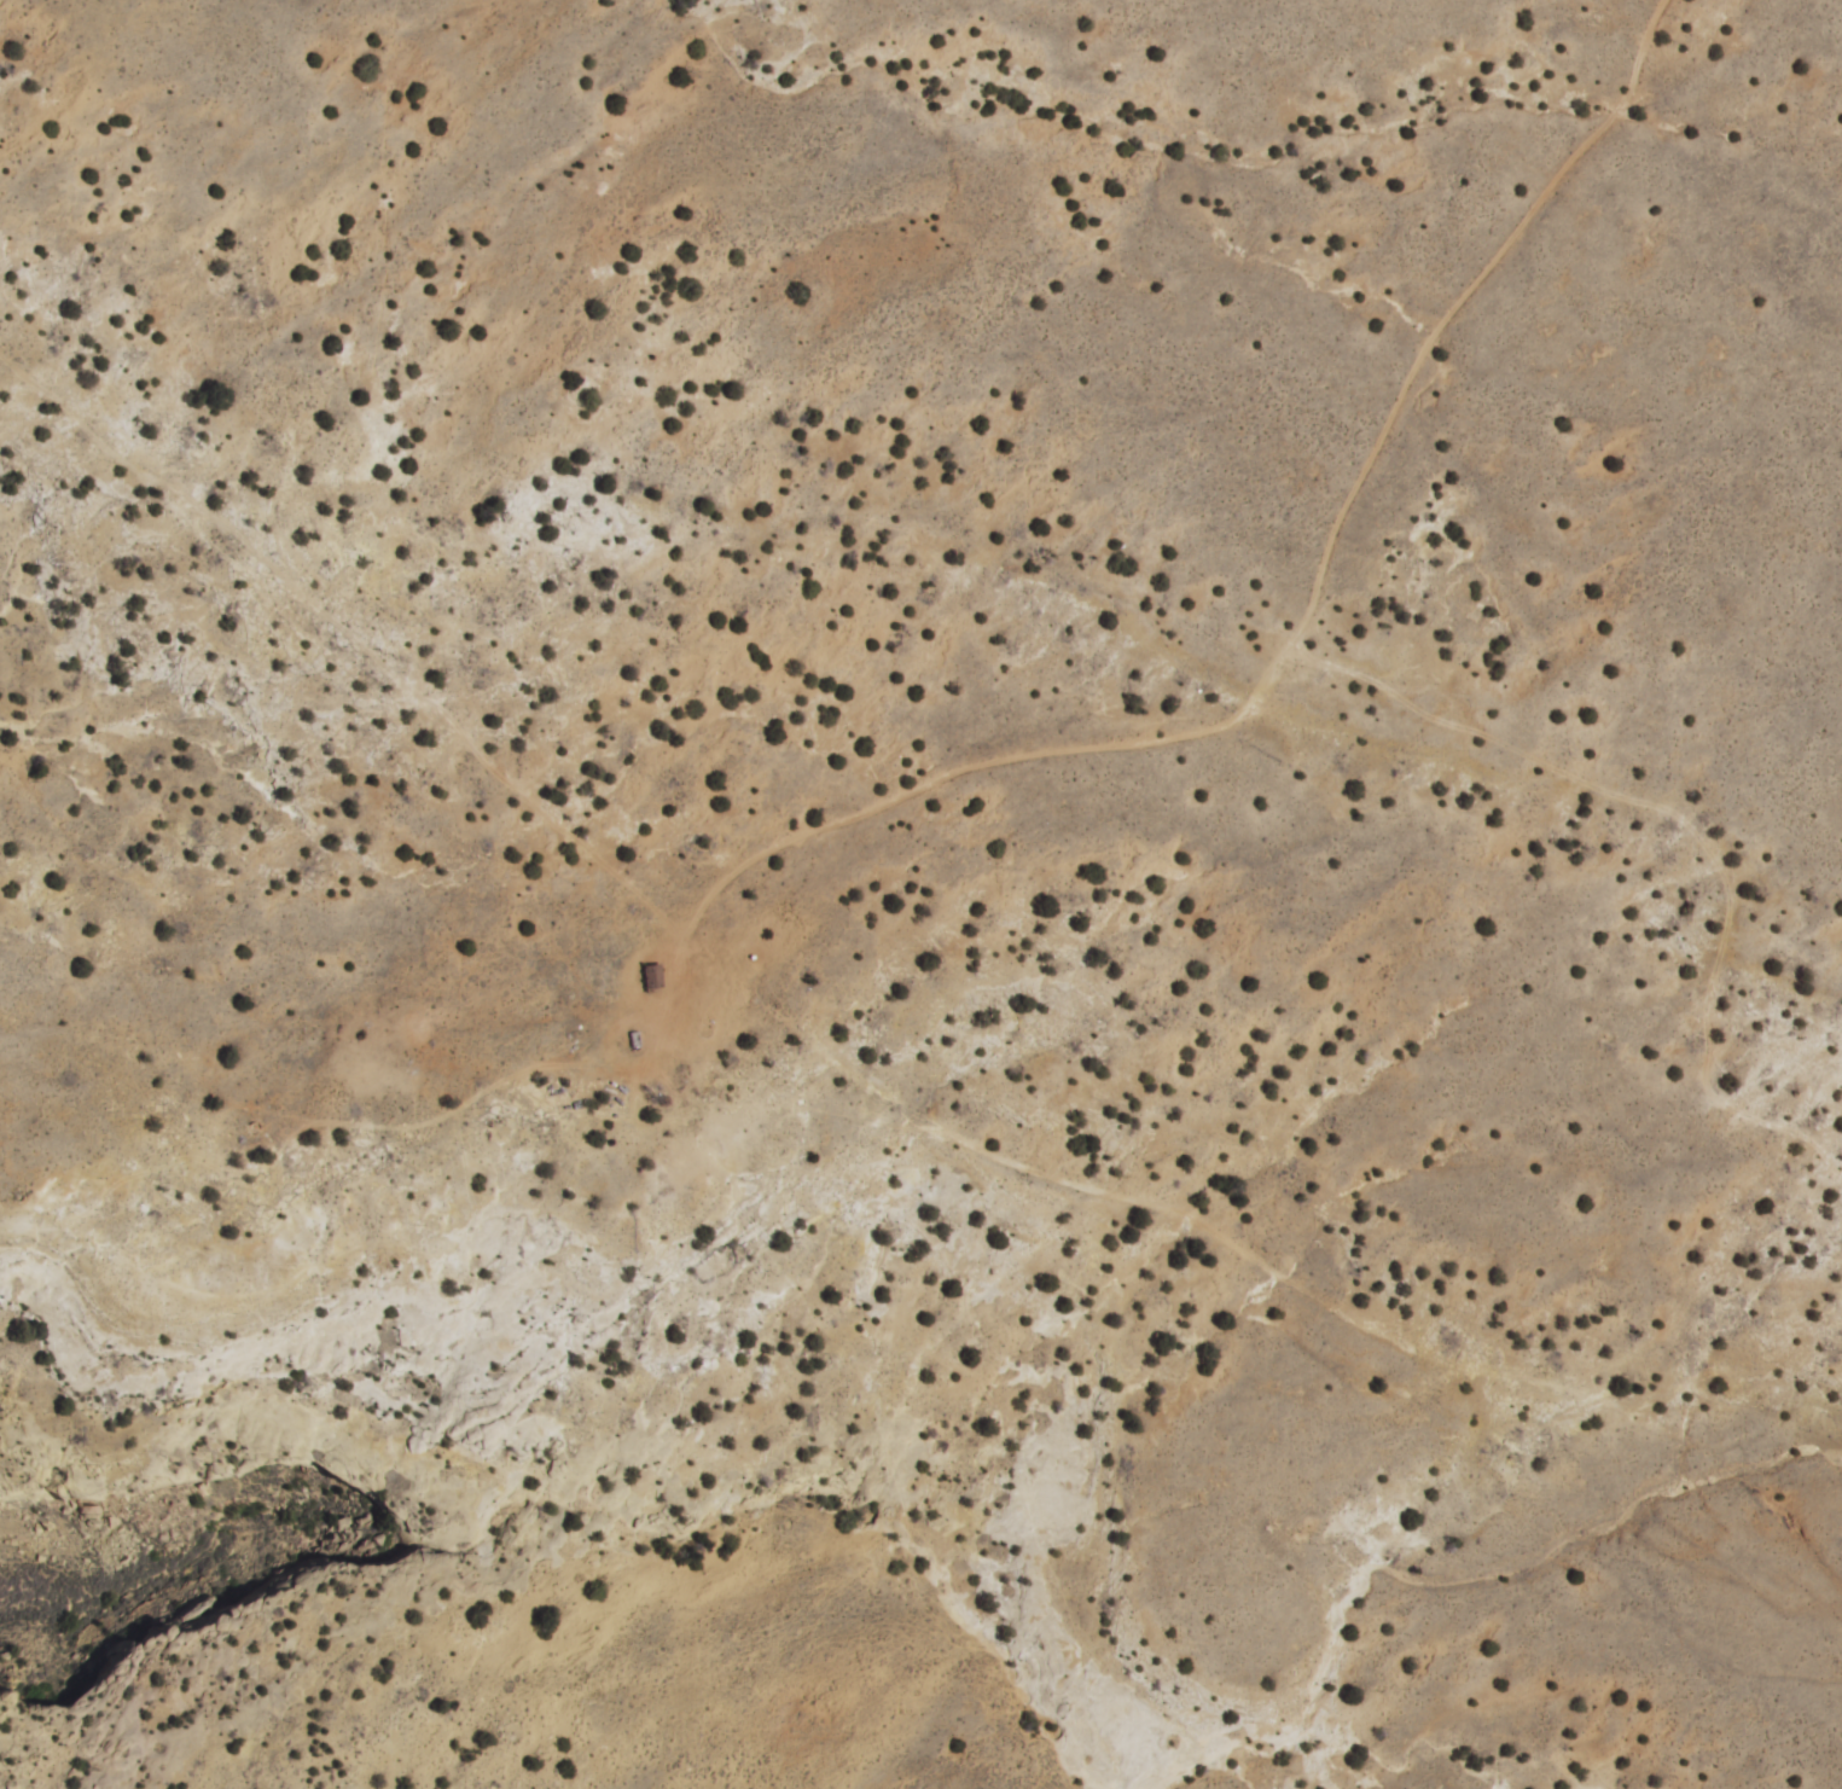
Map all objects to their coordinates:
building: (655, 976)
road: (830, 1052)

